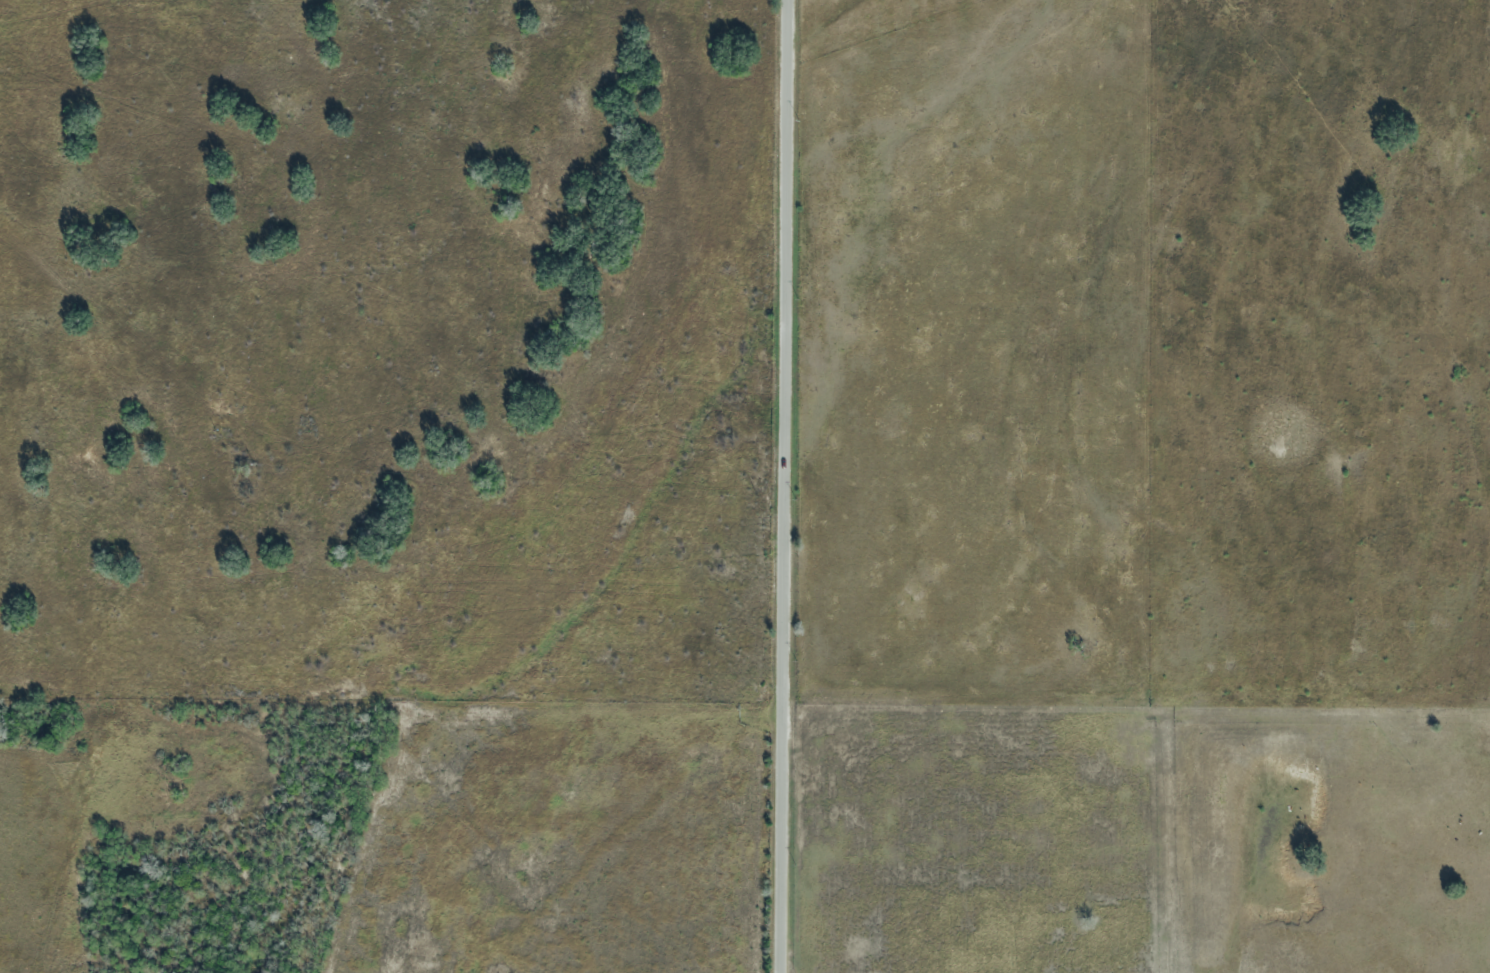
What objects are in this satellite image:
road: (790, 486)

